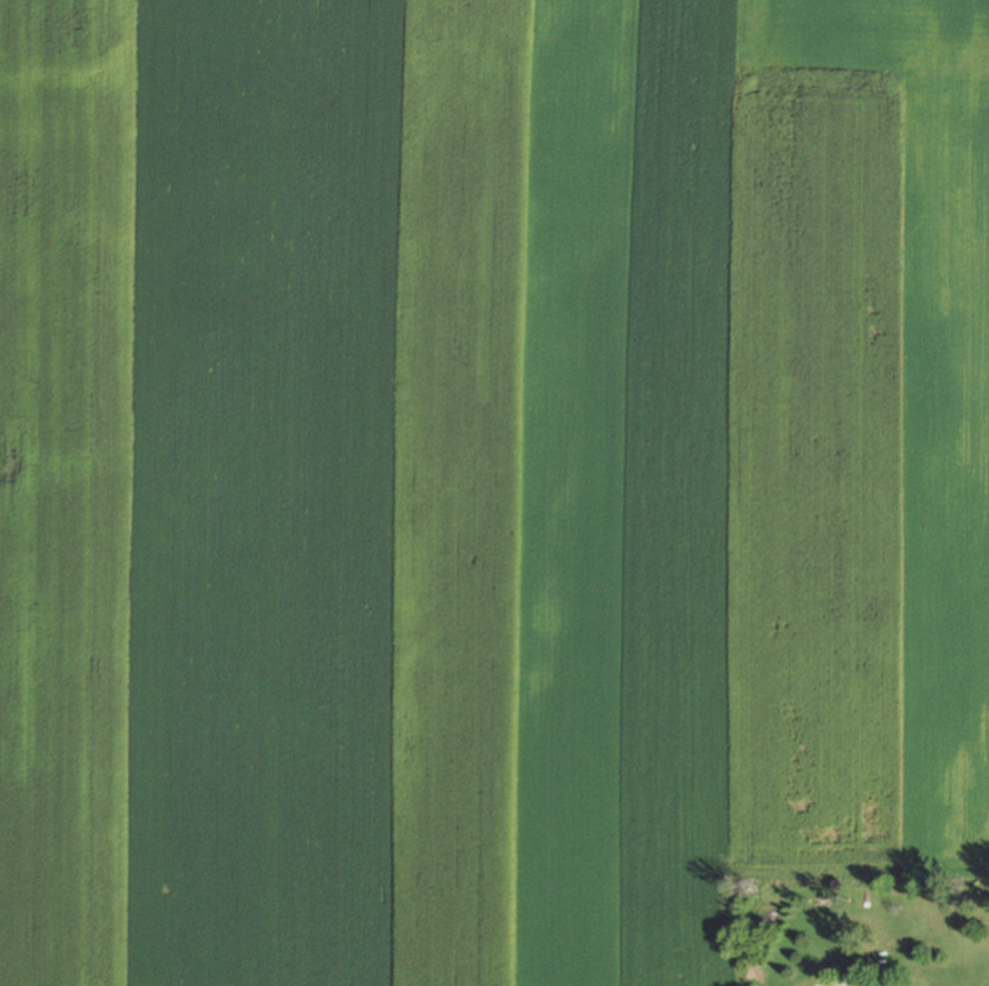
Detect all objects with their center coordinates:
building: (879, 985)

